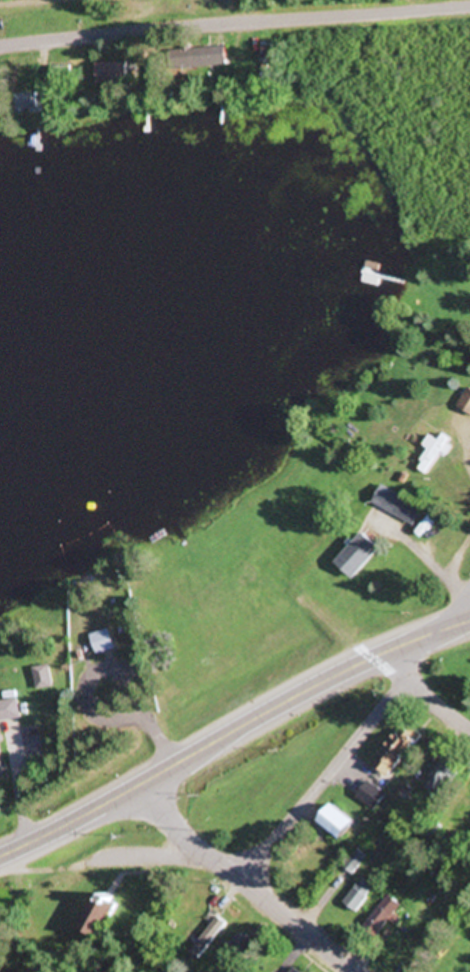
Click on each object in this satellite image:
road: (28, 2)
road: (234, 27)
building: (199, 59)
building: (116, 74)
building: (29, 103)
building: (466, 403)
building: (435, 454)
building: (399, 507)
building: (359, 557)
road: (458, 616)
road: (385, 661)
building: (44, 677)
park: (114, 684)
parking lot: (120, 705)
building: (10, 711)
road: (232, 736)
building: (398, 750)
building: (1, 762)
road: (322, 777)
building: (442, 781)
building: (371, 796)
building: (340, 823)
road: (167, 860)
building: (354, 862)
road: (244, 881)
building: (358, 896)
building: (384, 915)
building: (99, 916)
building: (209, 939)
building: (239, 951)

